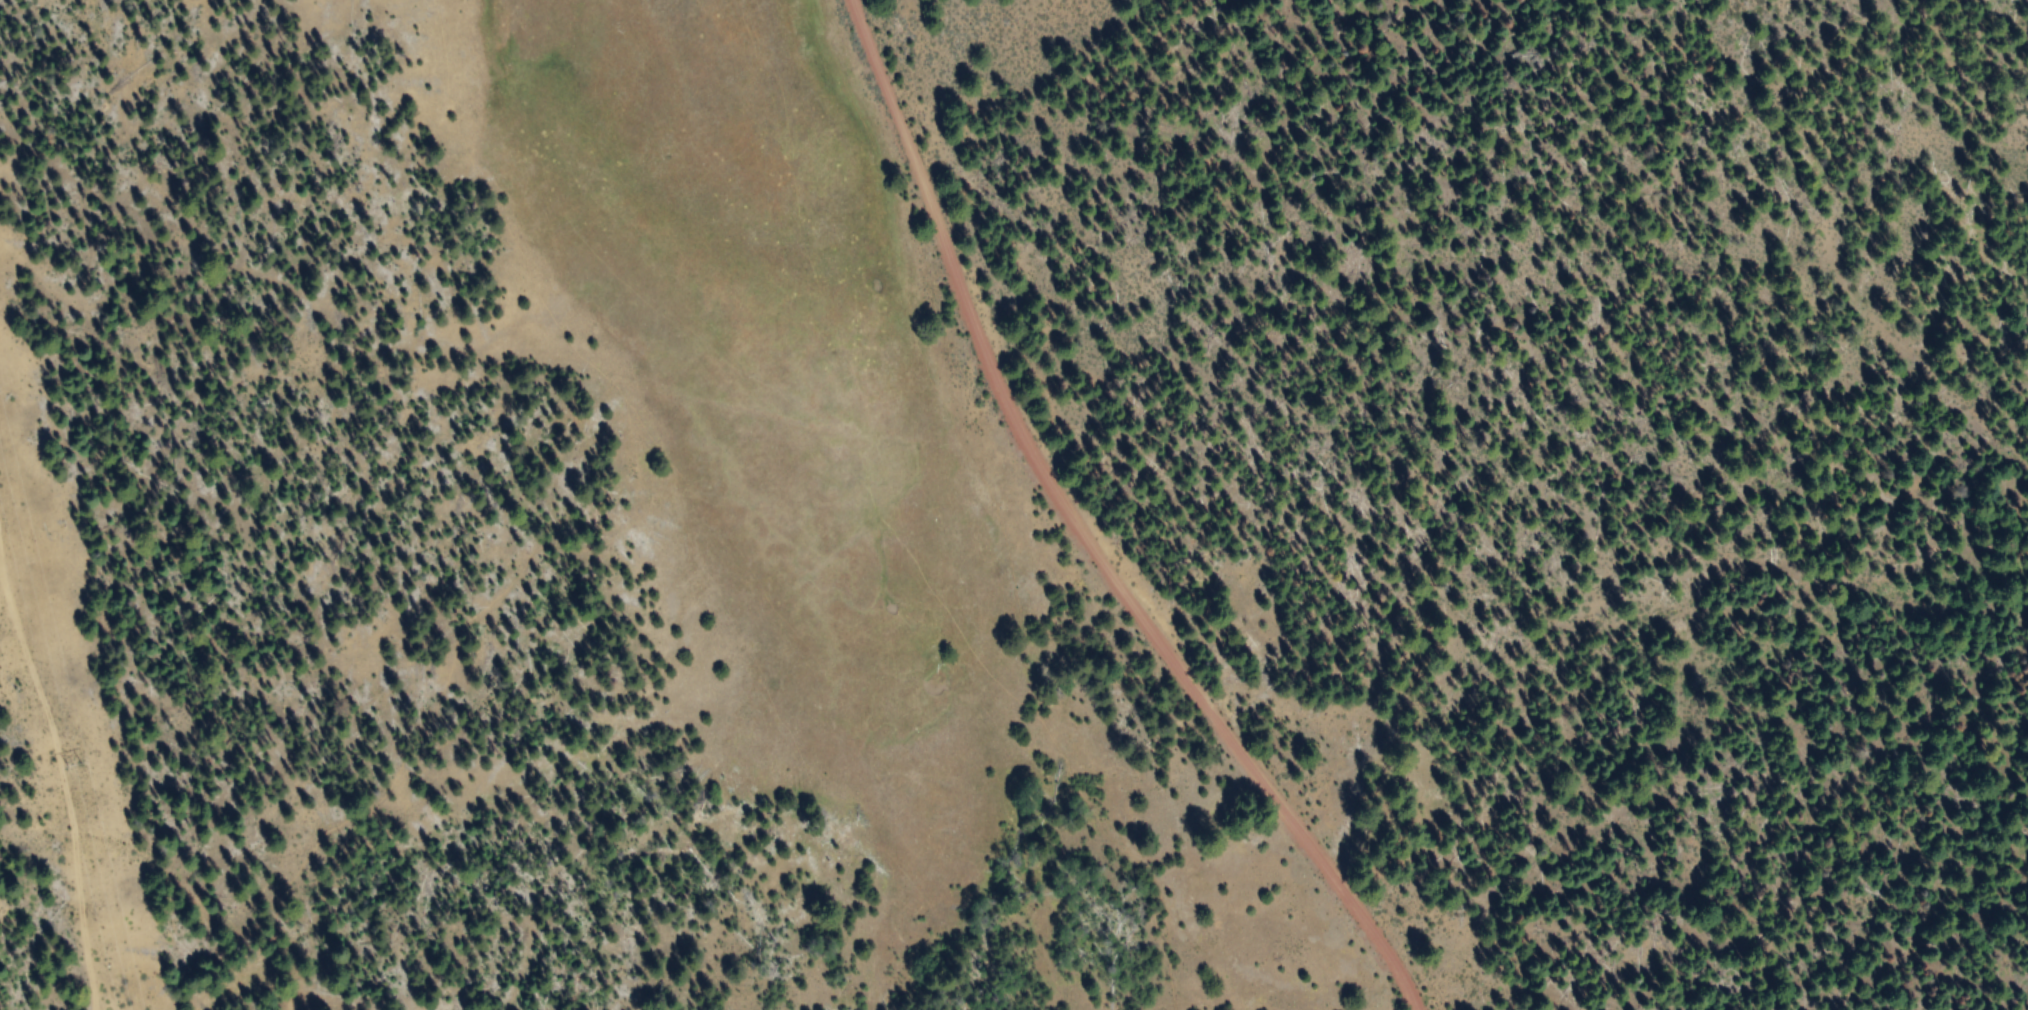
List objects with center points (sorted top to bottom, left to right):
road: (1059, 546)
power tower: (67, 764)

